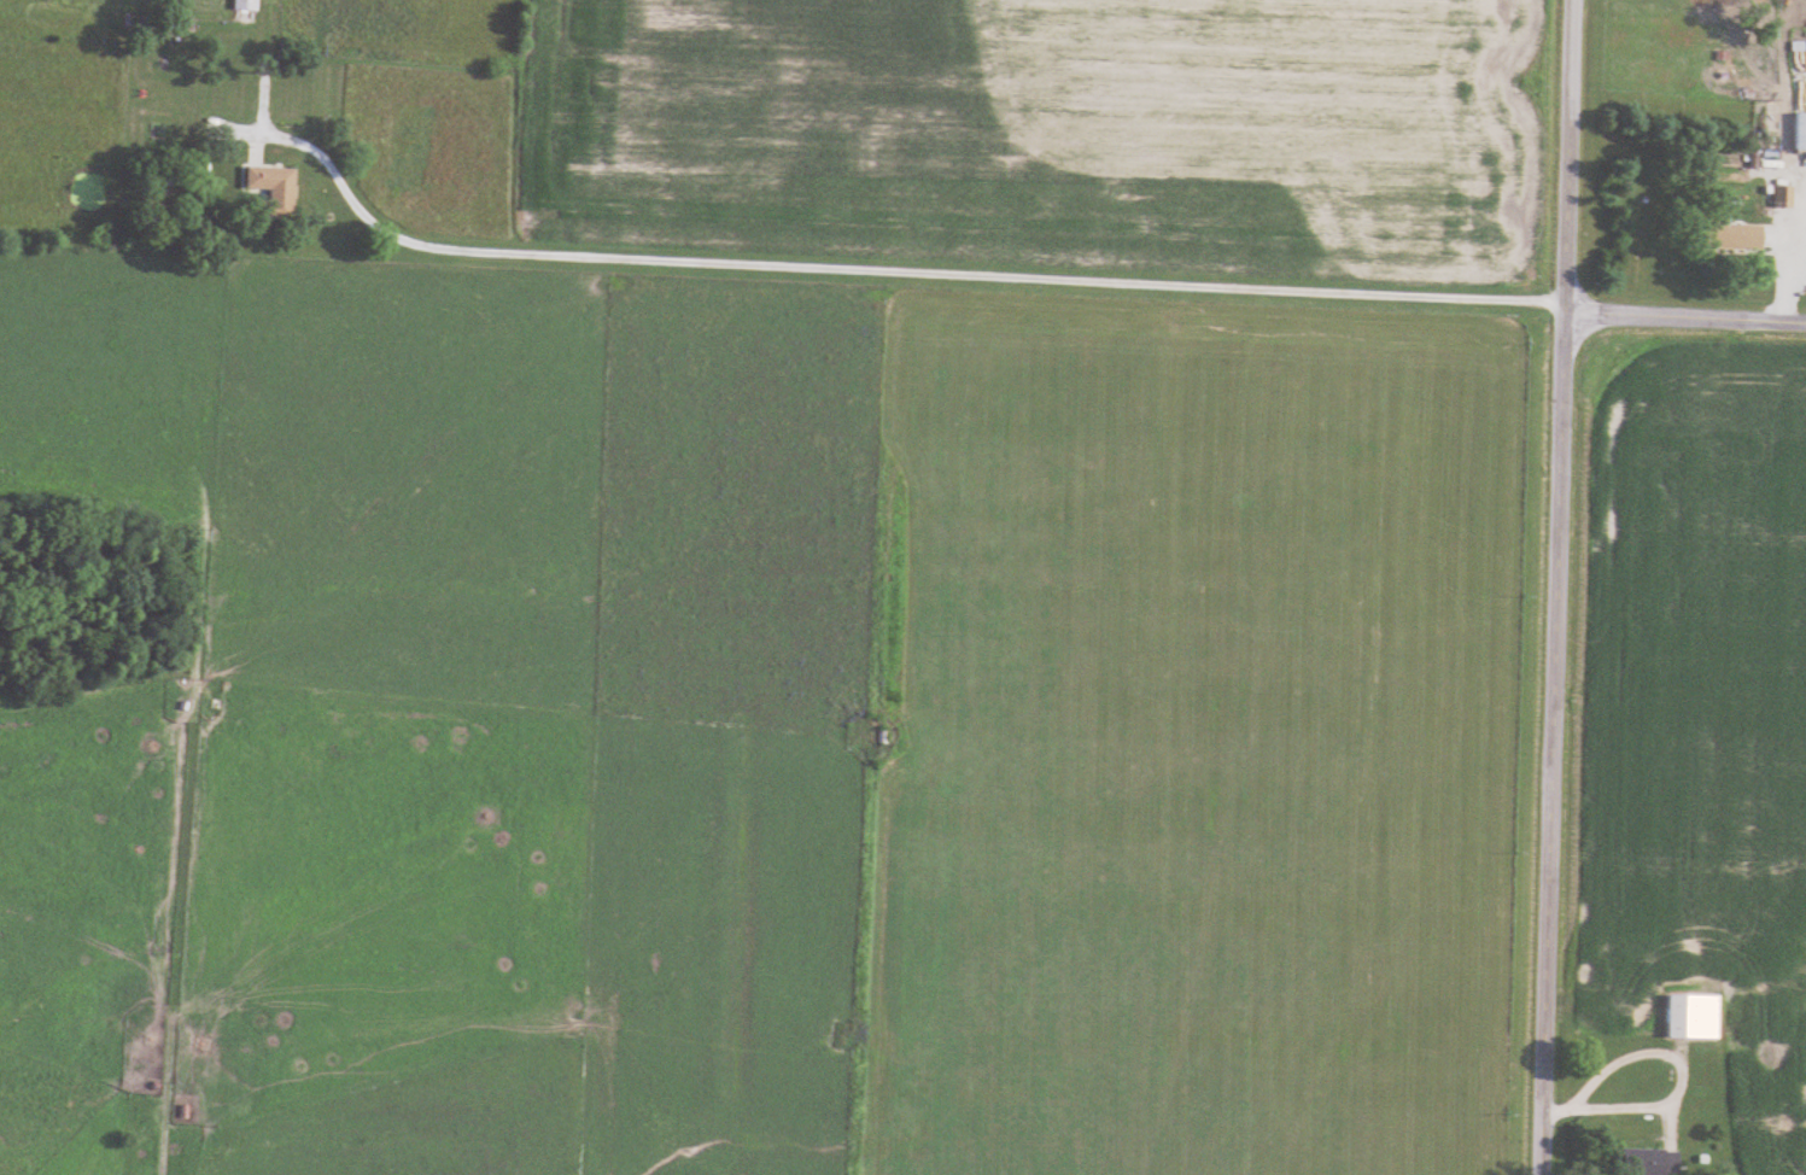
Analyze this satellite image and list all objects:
building: (247, 5)
building: (1801, 130)
building: (274, 188)
building: (1783, 197)
road: (875, 274)
road: (1684, 320)
road: (1555, 587)
road: (186, 855)
road: (865, 964)
building: (1694, 1016)
road: (1670, 1099)
road: (1556, 1112)
building: (1649, 1162)

